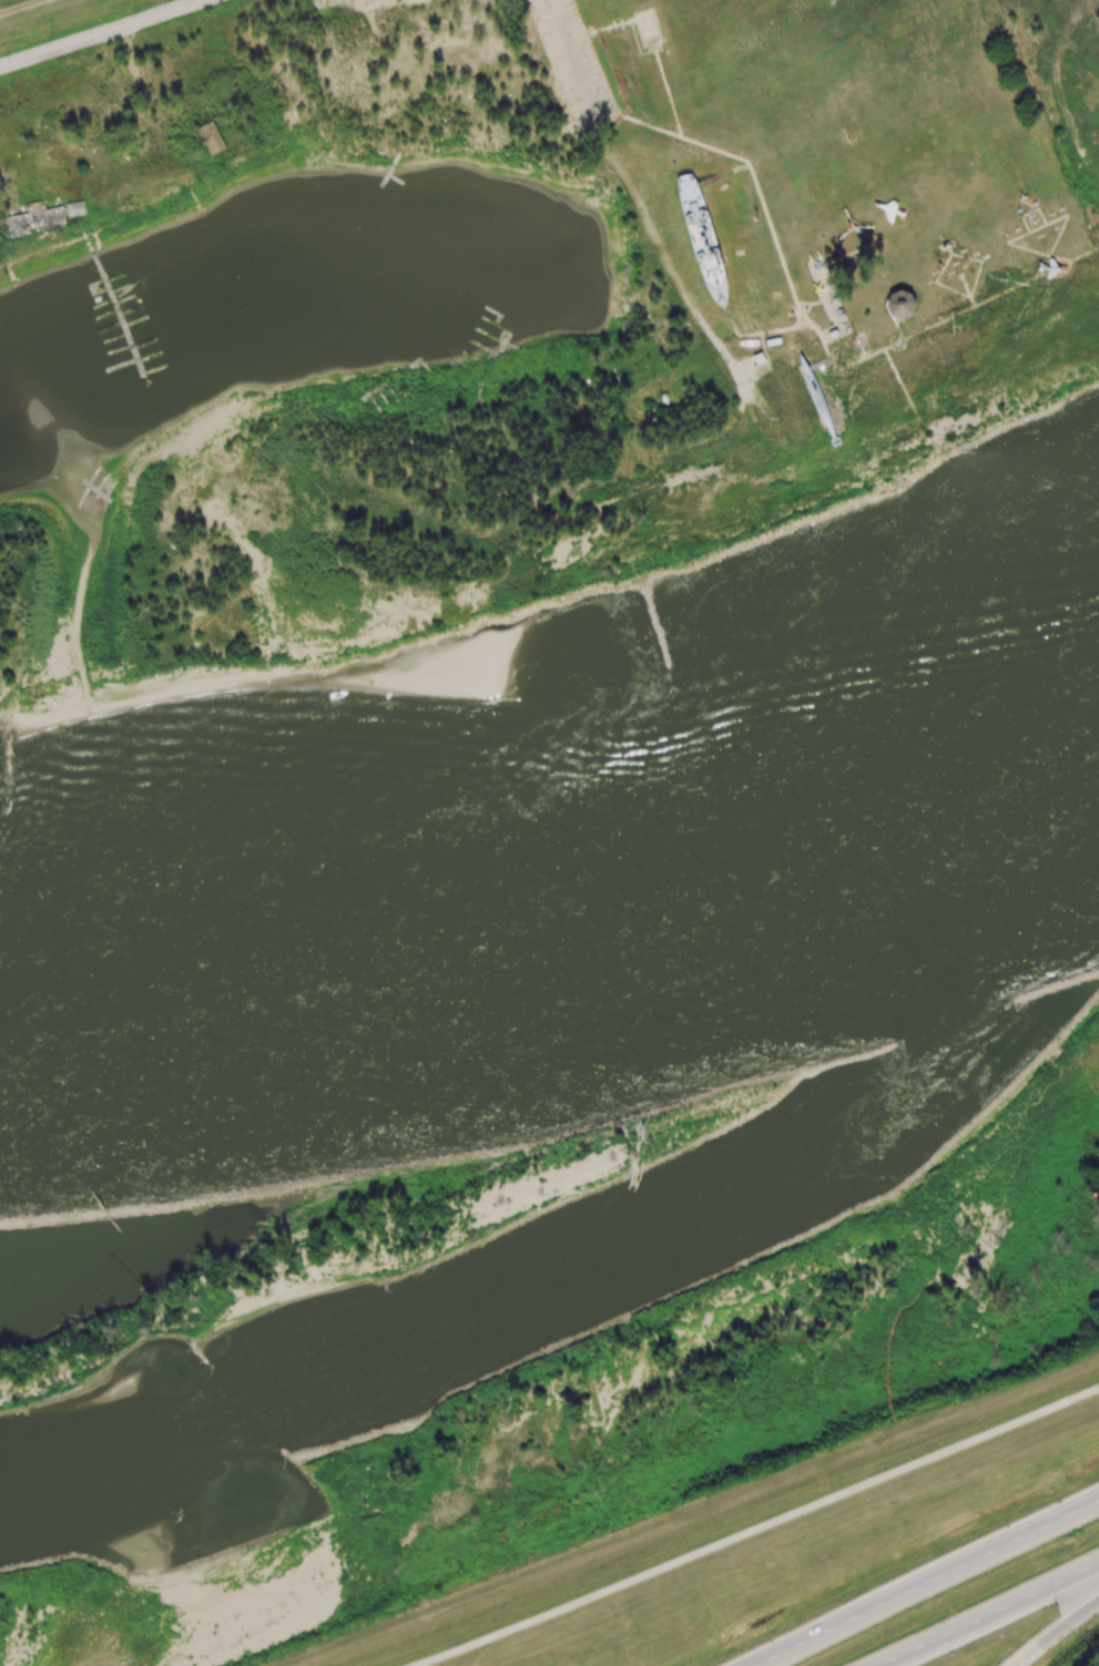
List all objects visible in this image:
building: (648, 25)
road: (600, 29)
road: (101, 33)
parking lot: (411, 43)
road: (574, 63)
parking lot: (579, 70)
road: (1060, 89)
road: (668, 91)
building: (211, 137)
road: (750, 167)
road: (721, 174)
parking lot: (136, 177)
road: (1030, 211)
building: (31, 221)
road: (1039, 226)
road: (952, 254)
road: (1085, 254)
road: (968, 289)
road: (995, 296)
building: (906, 304)
park: (515, 315)
road: (820, 334)
road: (903, 349)
road: (822, 364)
road: (906, 392)
river: (560, 901)
river: (606, 1263)
road: (755, 1529)
road: (925, 1582)
road: (989, 1616)

